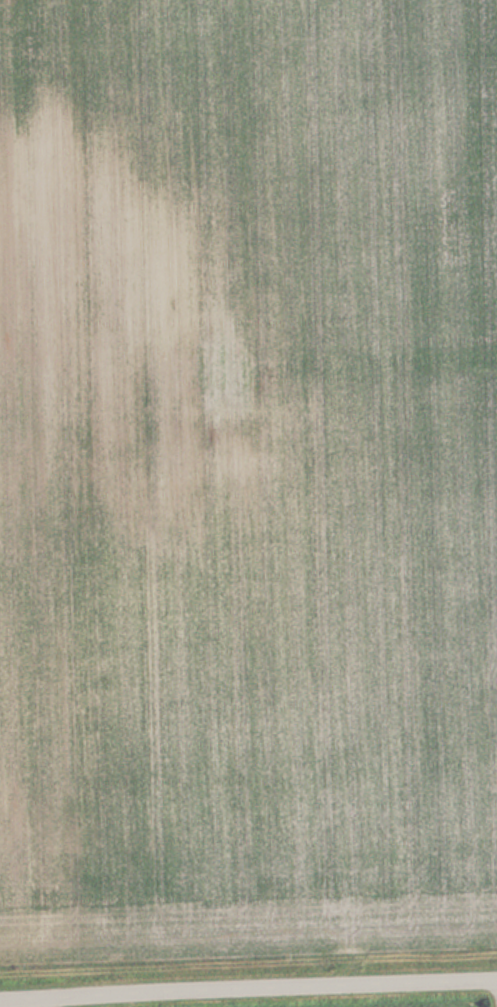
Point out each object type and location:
road: (248, 987)

